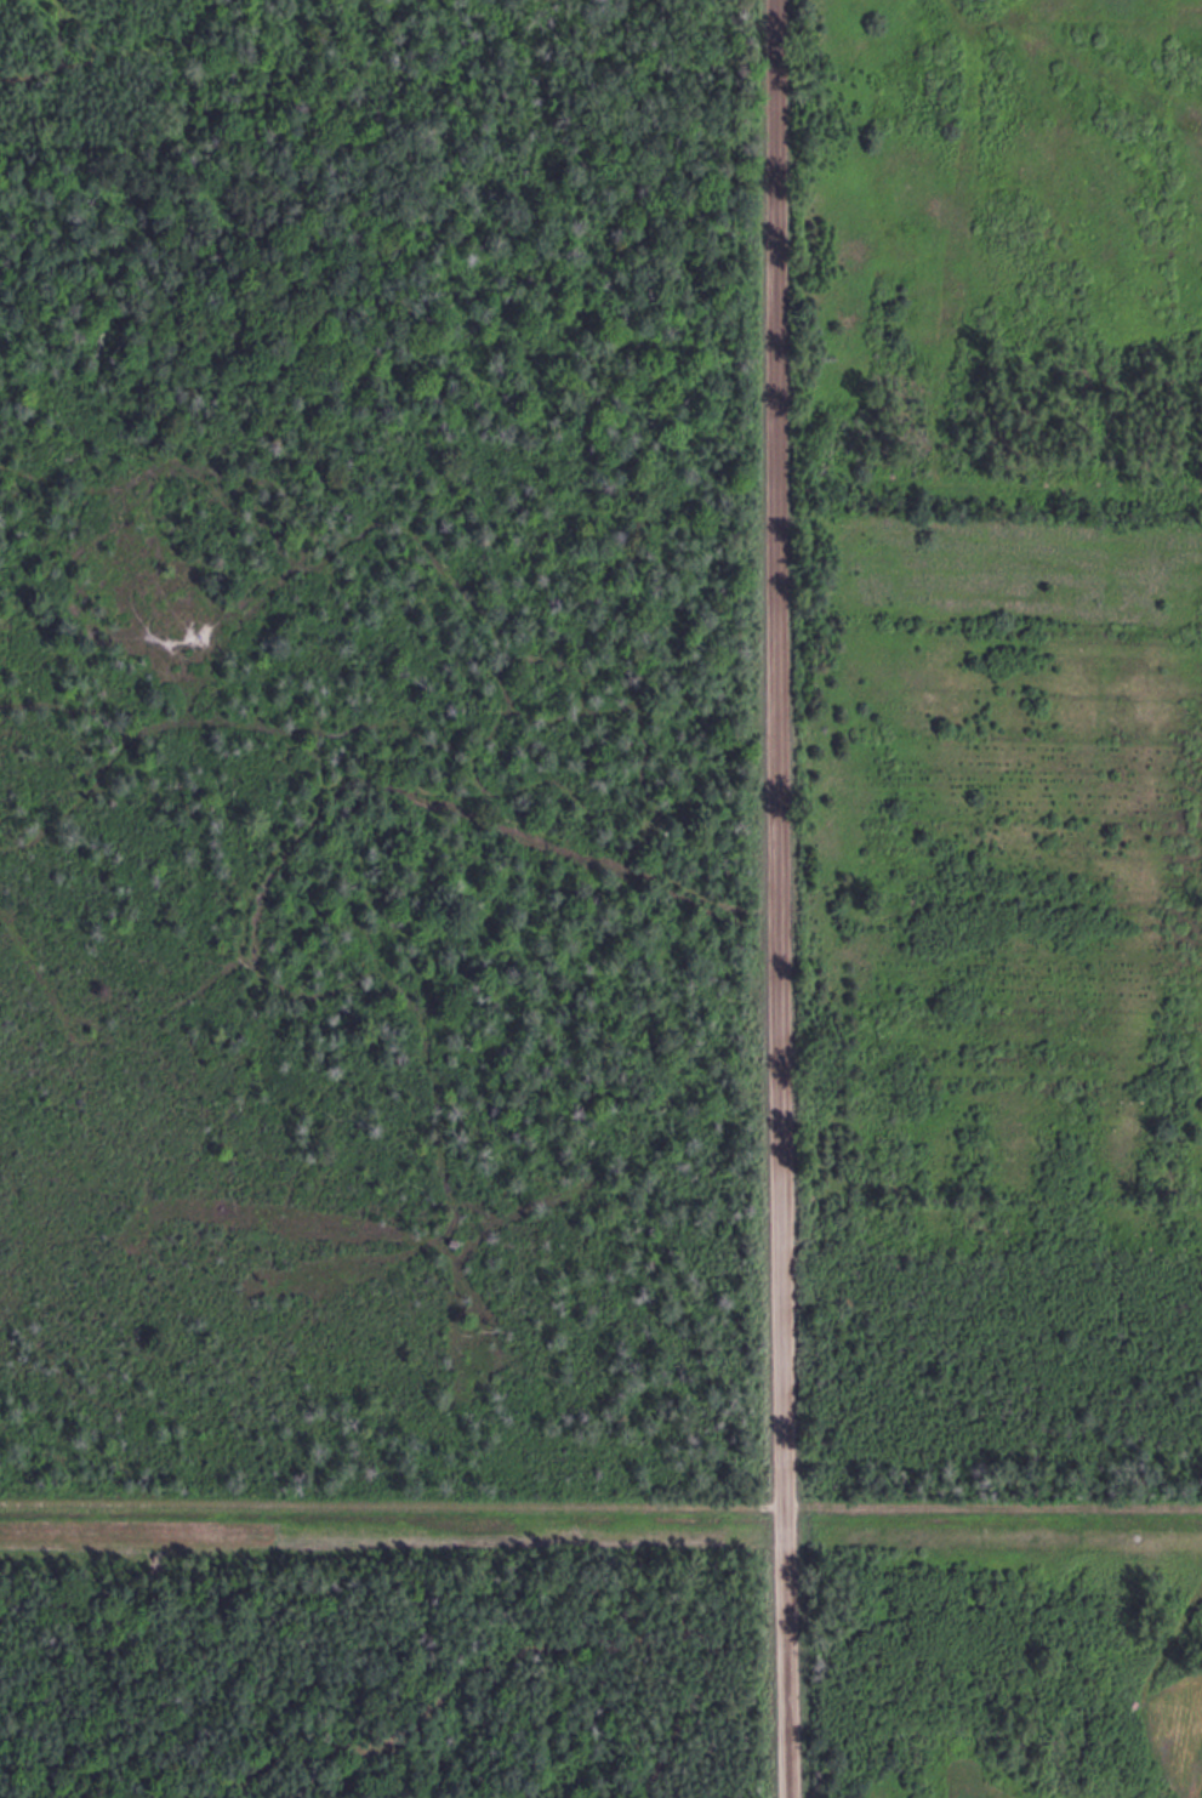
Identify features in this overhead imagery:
road: (775, 899)

